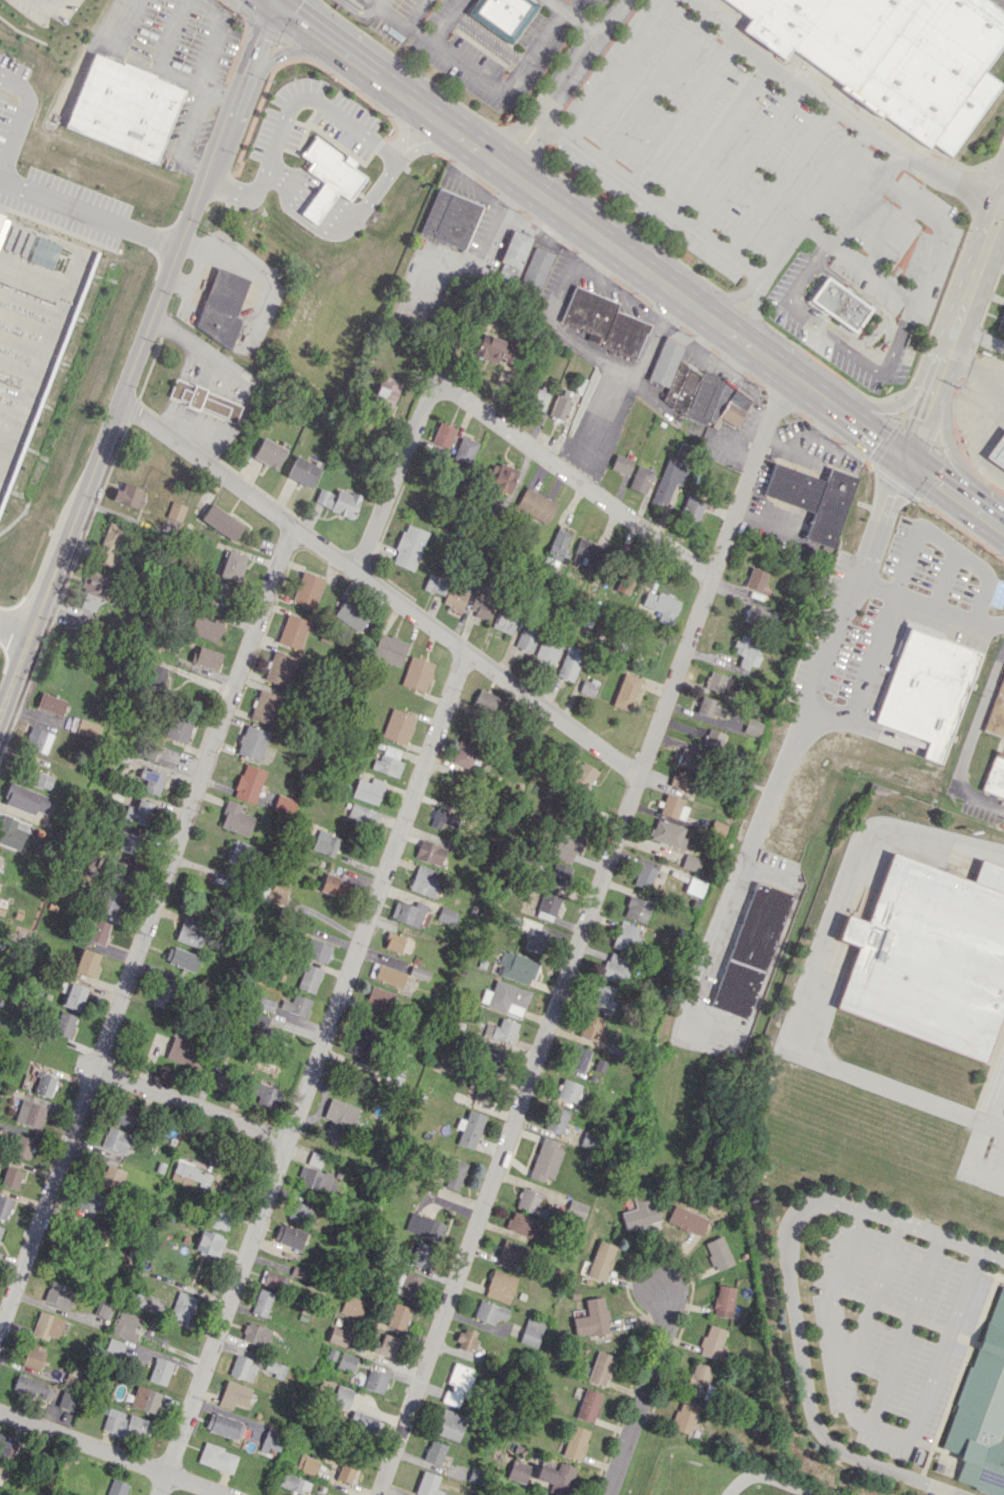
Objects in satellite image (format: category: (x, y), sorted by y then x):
road: (272, 1)
road: (42, 3)
road: (575, 8)
road: (418, 11)
road: (361, 12)
building: (503, 14)
road: (449, 19)
road: (571, 19)
road: (325, 25)
parking lot: (484, 38)
road: (216, 39)
road: (488, 39)
road: (283, 54)
road: (133, 55)
building: (894, 55)
road: (617, 71)
road: (480, 72)
road: (803, 80)
road: (564, 85)
road: (653, 86)
road: (217, 95)
building: (125, 108)
road: (686, 110)
road: (286, 112)
road: (17, 118)
road: (719, 136)
road: (183, 139)
road: (402, 152)
road: (750, 158)
parking lot: (752, 165)
parking lot: (47, 172)
building: (328, 176)
road: (287, 181)
road: (781, 181)
road: (955, 182)
road: (370, 197)
road: (648, 200)
road: (542, 201)
road: (317, 203)
road: (813, 205)
road: (856, 206)
building: (1, 217)
road: (89, 217)
building: (451, 218)
building: (1, 222)
road: (890, 235)
building: (513, 254)
building: (537, 268)
road: (972, 281)
road: (754, 283)
road: (916, 295)
building: (840, 304)
building: (222, 306)
parking lot: (796, 318)
building: (1001, 321)
building: (603, 322)
road: (979, 335)
road: (885, 340)
road: (836, 342)
building: (494, 349)
road: (139, 355)
building: (664, 363)
road: (955, 369)
road: (238, 378)
building: (681, 386)
building: (386, 391)
building: (536, 398)
building: (204, 400)
building: (716, 402)
road: (886, 405)
building: (559, 407)
road: (963, 413)
road: (921, 415)
road: (860, 432)
building: (442, 434)
building: (464, 449)
building: (997, 452)
building: (268, 453)
traffic signals: (903, 463)
building: (621, 464)
building: (302, 471)
building: (501, 476)
road: (391, 479)
road: (576, 479)
building: (640, 479)
building: (668, 481)
building: (126, 495)
building: (812, 498)
road: (953, 500)
building: (337, 501)
building: (535, 504)
building: (692, 508)
building: (175, 511)
building: (221, 522)
building: (109, 544)
building: (556, 546)
building: (408, 547)
building: (583, 551)
road: (860, 557)
building: (232, 565)
building: (755, 579)
building: (625, 580)
road: (899, 582)
building: (95, 583)
building: (435, 584)
road: (380, 587)
building: (307, 589)
building: (219, 595)
building: (455, 597)
building: (661, 605)
building: (481, 607)
building: (350, 616)
building: (759, 616)
road: (964, 617)
building: (504, 622)
building: (205, 627)
building: (292, 631)
building: (525, 641)
building: (389, 649)
building: (747, 651)
building: (547, 652)
building: (207, 658)
building: (570, 662)
building: (279, 667)
building: (417, 673)
building: (156, 676)
building: (721, 683)
building: (588, 687)
building: (927, 689)
building: (627, 691)
building: (485, 700)
building: (50, 703)
building: (264, 706)
building: (710, 707)
building: (997, 711)
building: (398, 725)
building: (753, 727)
building: (178, 728)
building: (700, 731)
building: (37, 739)
building: (713, 739)
building: (252, 742)
building: (146, 749)
building: (464, 754)
building: (688, 758)
building: (388, 761)
building: (582, 772)
building: (995, 777)
building: (40, 779)
building: (152, 780)
building: (681, 780)
building: (248, 783)
building: (368, 790)
building: (27, 800)
road: (765, 800)
building: (283, 804)
building: (673, 807)
building: (139, 811)
building: (362, 814)
building: (235, 818)
building: (444, 819)
building: (11, 832)
building: (668, 833)
building: (126, 841)
building: (325, 843)
building: (566, 844)
building: (429, 852)
building: (241, 853)
building: (690, 862)
building: (119, 871)
building: (559, 874)
building: (644, 876)
building: (424, 881)
building: (335, 885)
building: (277, 891)
building: (108, 901)
building: (547, 905)
building: (637, 909)
building: (411, 913)
building: (447, 915)
road: (146, 929)
building: (97, 931)
building: (190, 931)
building: (529, 932)
road: (579, 935)
building: (626, 937)
building: (398, 943)
building: (751, 949)
building: (317, 950)
building: (929, 955)
building: (181, 958)
building: (86, 962)
building: (516, 967)
building: (616, 967)
building: (419, 972)
building: (389, 975)
building: (309, 978)
road: (810, 983)
building: (164, 995)
building: (602, 995)
building: (73, 996)
building: (505, 998)
building: (377, 1000)
building: (265, 1003)
building: (296, 1005)
building: (63, 1023)
building: (260, 1025)
building: (592, 1027)
building: (505, 1030)
building: (357, 1045)
building: (182, 1050)
building: (578, 1057)
building: (492, 1059)
road: (312, 1073)
building: (394, 1078)
building: (218, 1079)
building: (44, 1084)
building: (568, 1090)
building: (482, 1094)
building: (267, 1095)
road: (191, 1105)
building: (32, 1115)
building: (124, 1116)
building: (338, 1119)
building: (556, 1119)
building: (469, 1128)
building: (115, 1140)
building: (21, 1146)
building: (315, 1159)
building: (545, 1159)
building: (454, 1172)
building: (10, 1177)
building: (111, 1177)
building: (316, 1180)
building: (92, 1201)
building: (531, 1202)
building: (4, 1206)
building: (576, 1209)
building: (299, 1212)
building: (640, 1212)
building: (220, 1218)
building: (687, 1220)
building: (521, 1224)
building: (424, 1226)
road: (934, 1229)
building: (289, 1235)
building: (209, 1243)
building: (719, 1253)
building: (420, 1254)
building: (510, 1254)
building: (601, 1260)
building: (272, 1279)
building: (407, 1285)
building: (500, 1286)
building: (57, 1294)
building: (725, 1300)
building: (262, 1302)
building: (352, 1306)
building: (182, 1307)
building: (104, 1308)
building: (489, 1312)
building: (398, 1316)
building: (592, 1318)
building: (47, 1325)
building: (124, 1325)
building: (531, 1332)
building: (255, 1334)
building: (338, 1336)
building: (465, 1339)
building: (714, 1341)
building: (386, 1345)
building: (114, 1347)
building: (31, 1357)
road: (801, 1360)
building: (346, 1361)
building: (242, 1368)
building: (275, 1368)
building: (600, 1368)
building: (160, 1370)
building: (699, 1379)
building: (375, 1381)
building: (459, 1384)
building: (32, 1387)
road: (647, 1388)
building: (234, 1394)
building: (342, 1396)
building: (145, 1398)
building: (68, 1400)
building: (588, 1405)
building: (983, 1410)
building: (685, 1416)
building: (365, 1424)
building: (449, 1424)
building: (125, 1425)
building: (224, 1426)
building: (271, 1441)
building: (575, 1442)
building: (7, 1446)
building: (434, 1451)
road: (110, 1453)
building: (217, 1457)
building: (307, 1465)
building: (346, 1471)
building: (556, 1477)
road: (770, 1477)
building: (294, 1483)
building: (428, 1485)
building: (117, 1487)

